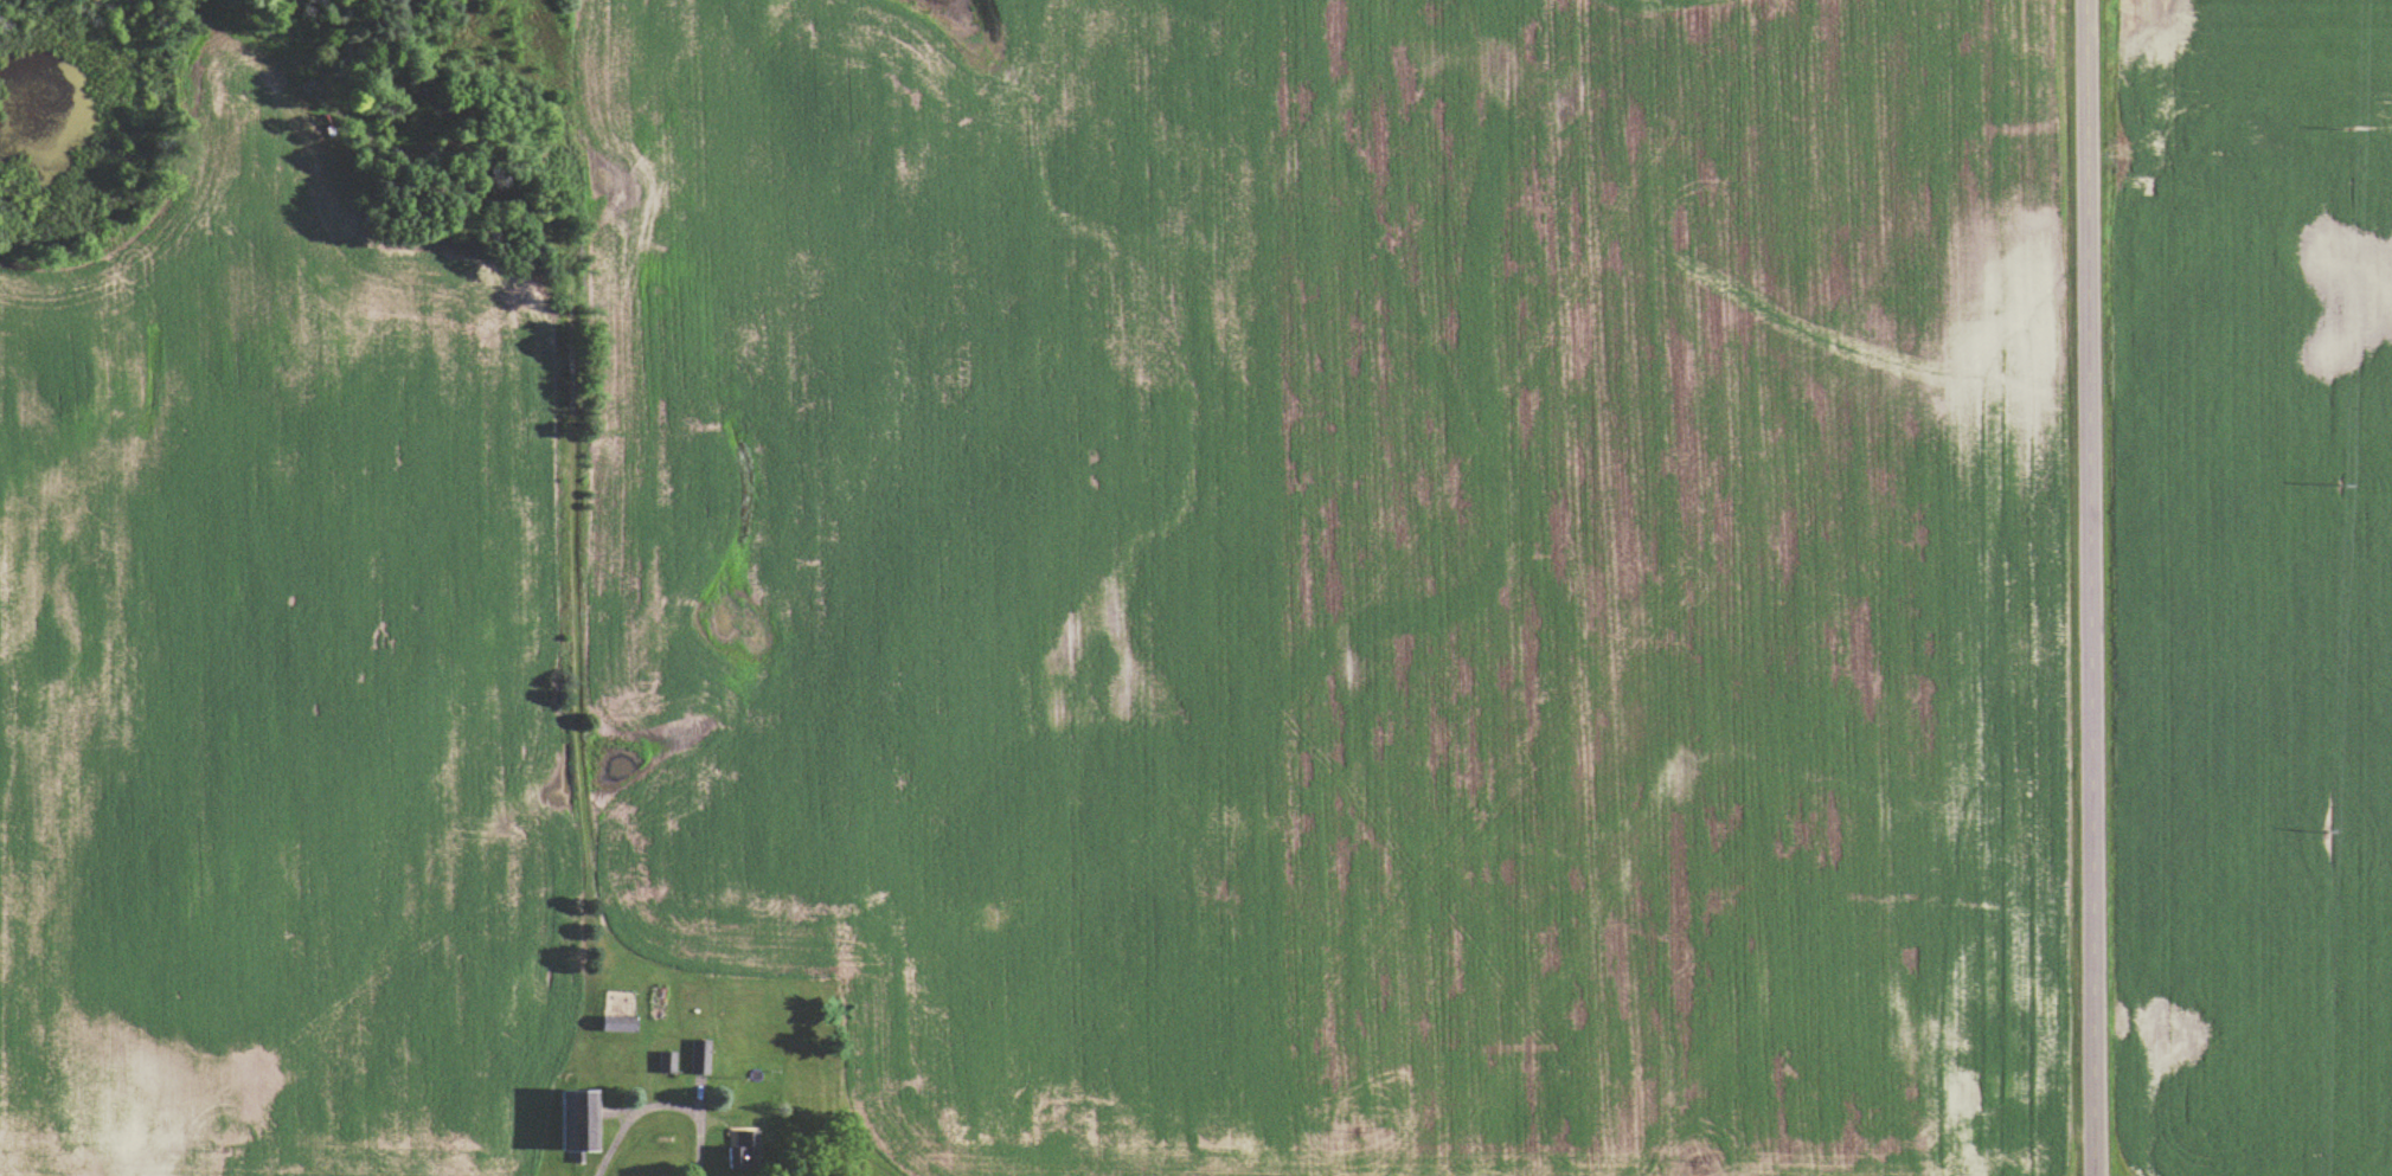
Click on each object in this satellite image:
road: (2092, 587)
building: (655, 1004)
building: (616, 1027)
building: (699, 1059)
building: (666, 1065)
road: (666, 1106)
building: (576, 1123)
building: (740, 1153)

